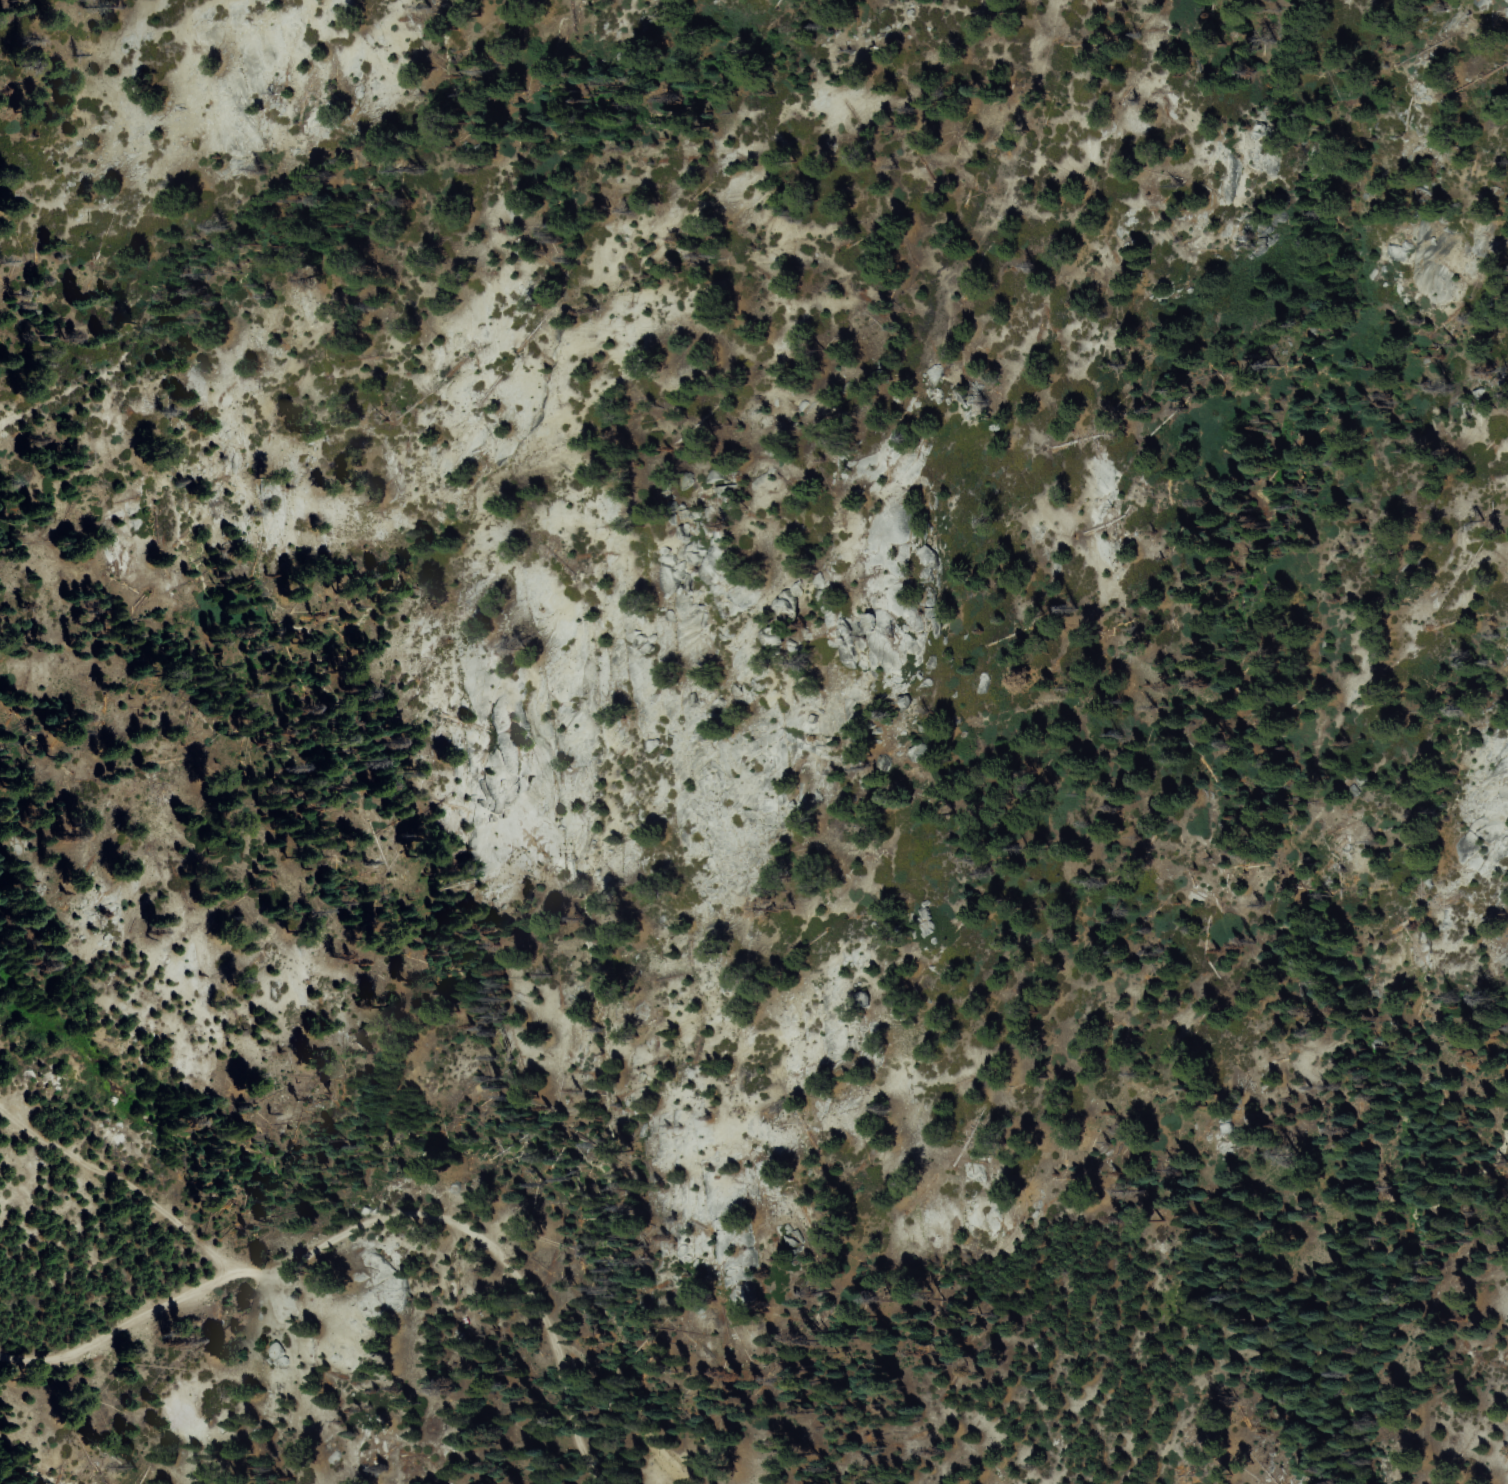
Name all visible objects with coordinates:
road: (123, 1177)
road: (366, 1226)

